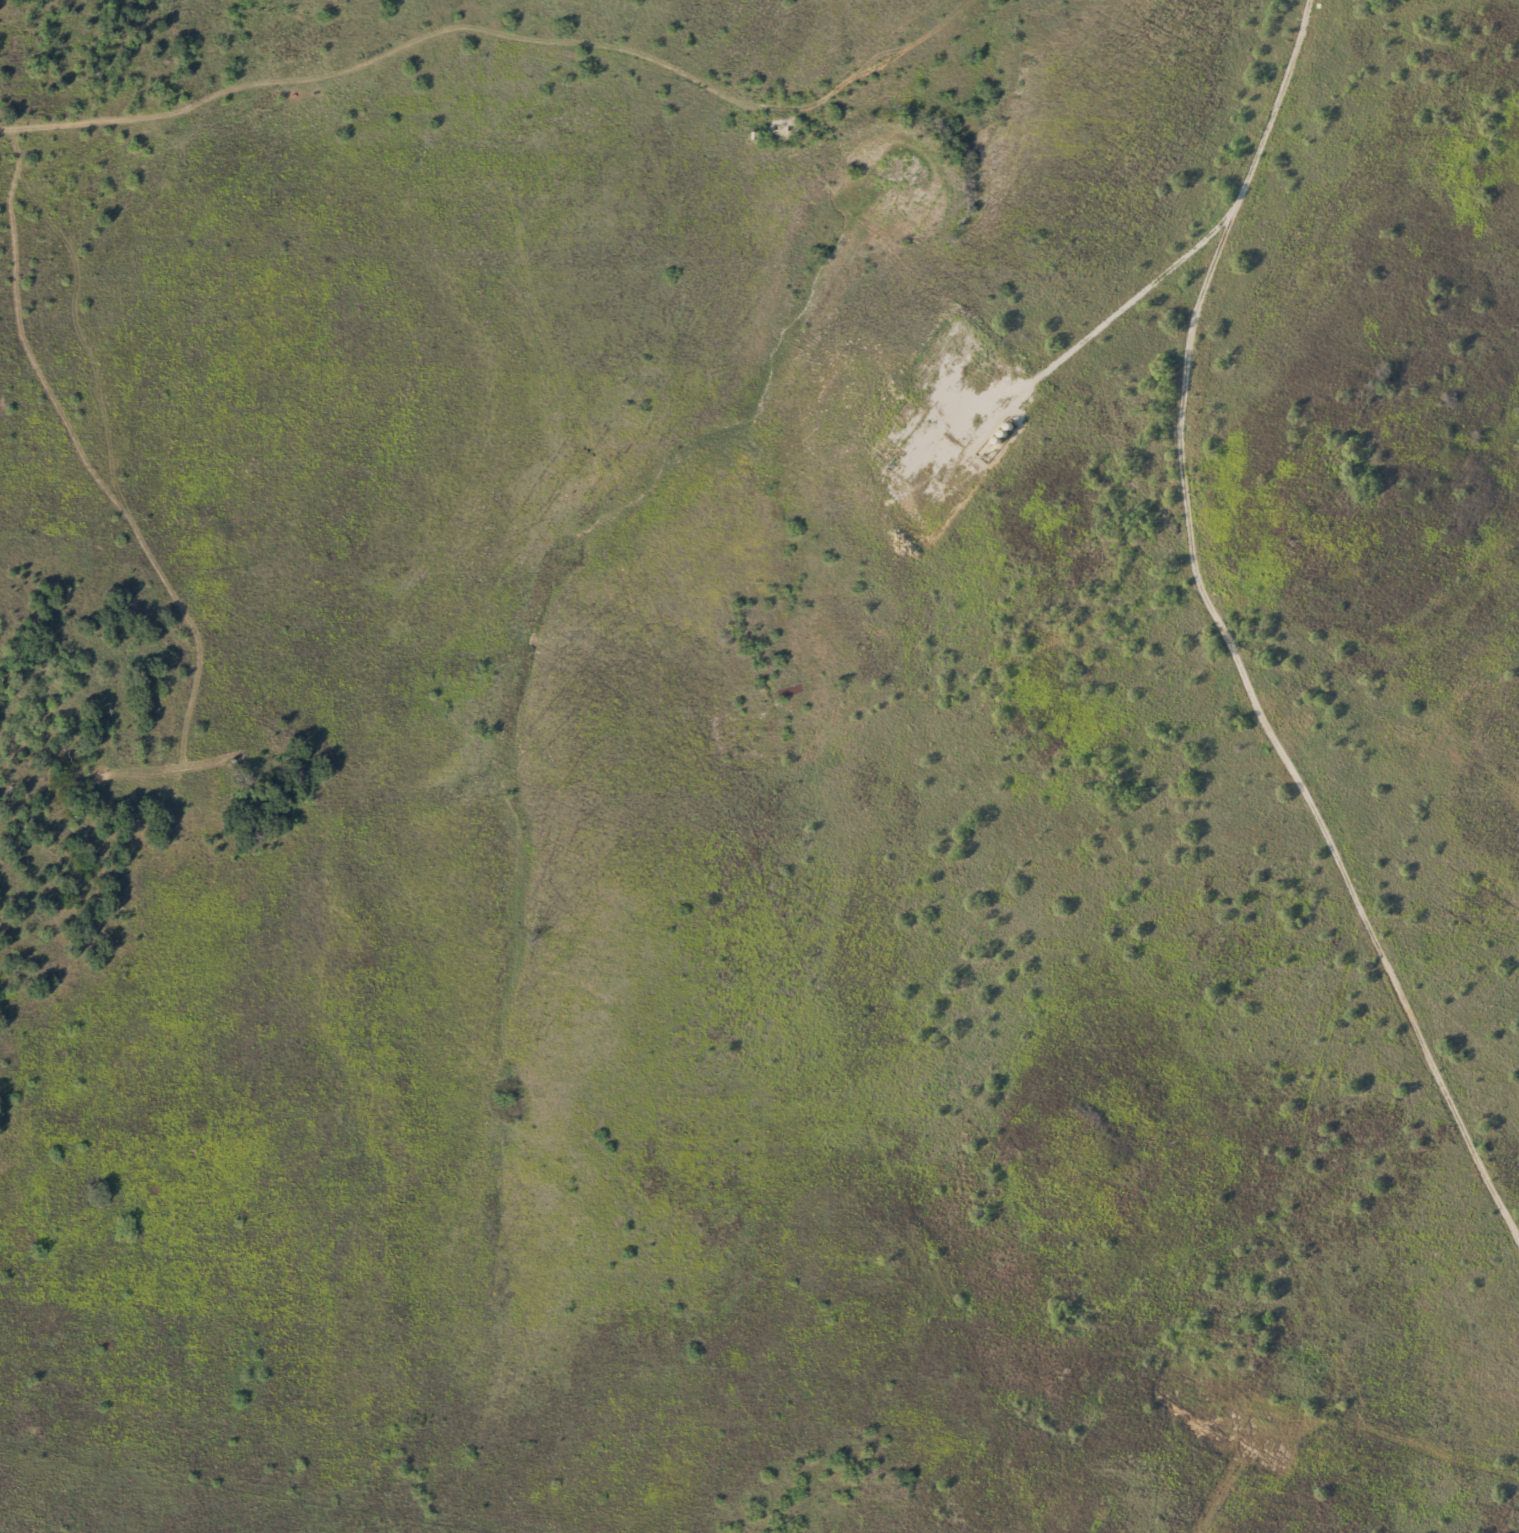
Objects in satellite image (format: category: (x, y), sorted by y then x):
road: (1085, 340)
road: (1228, 635)

